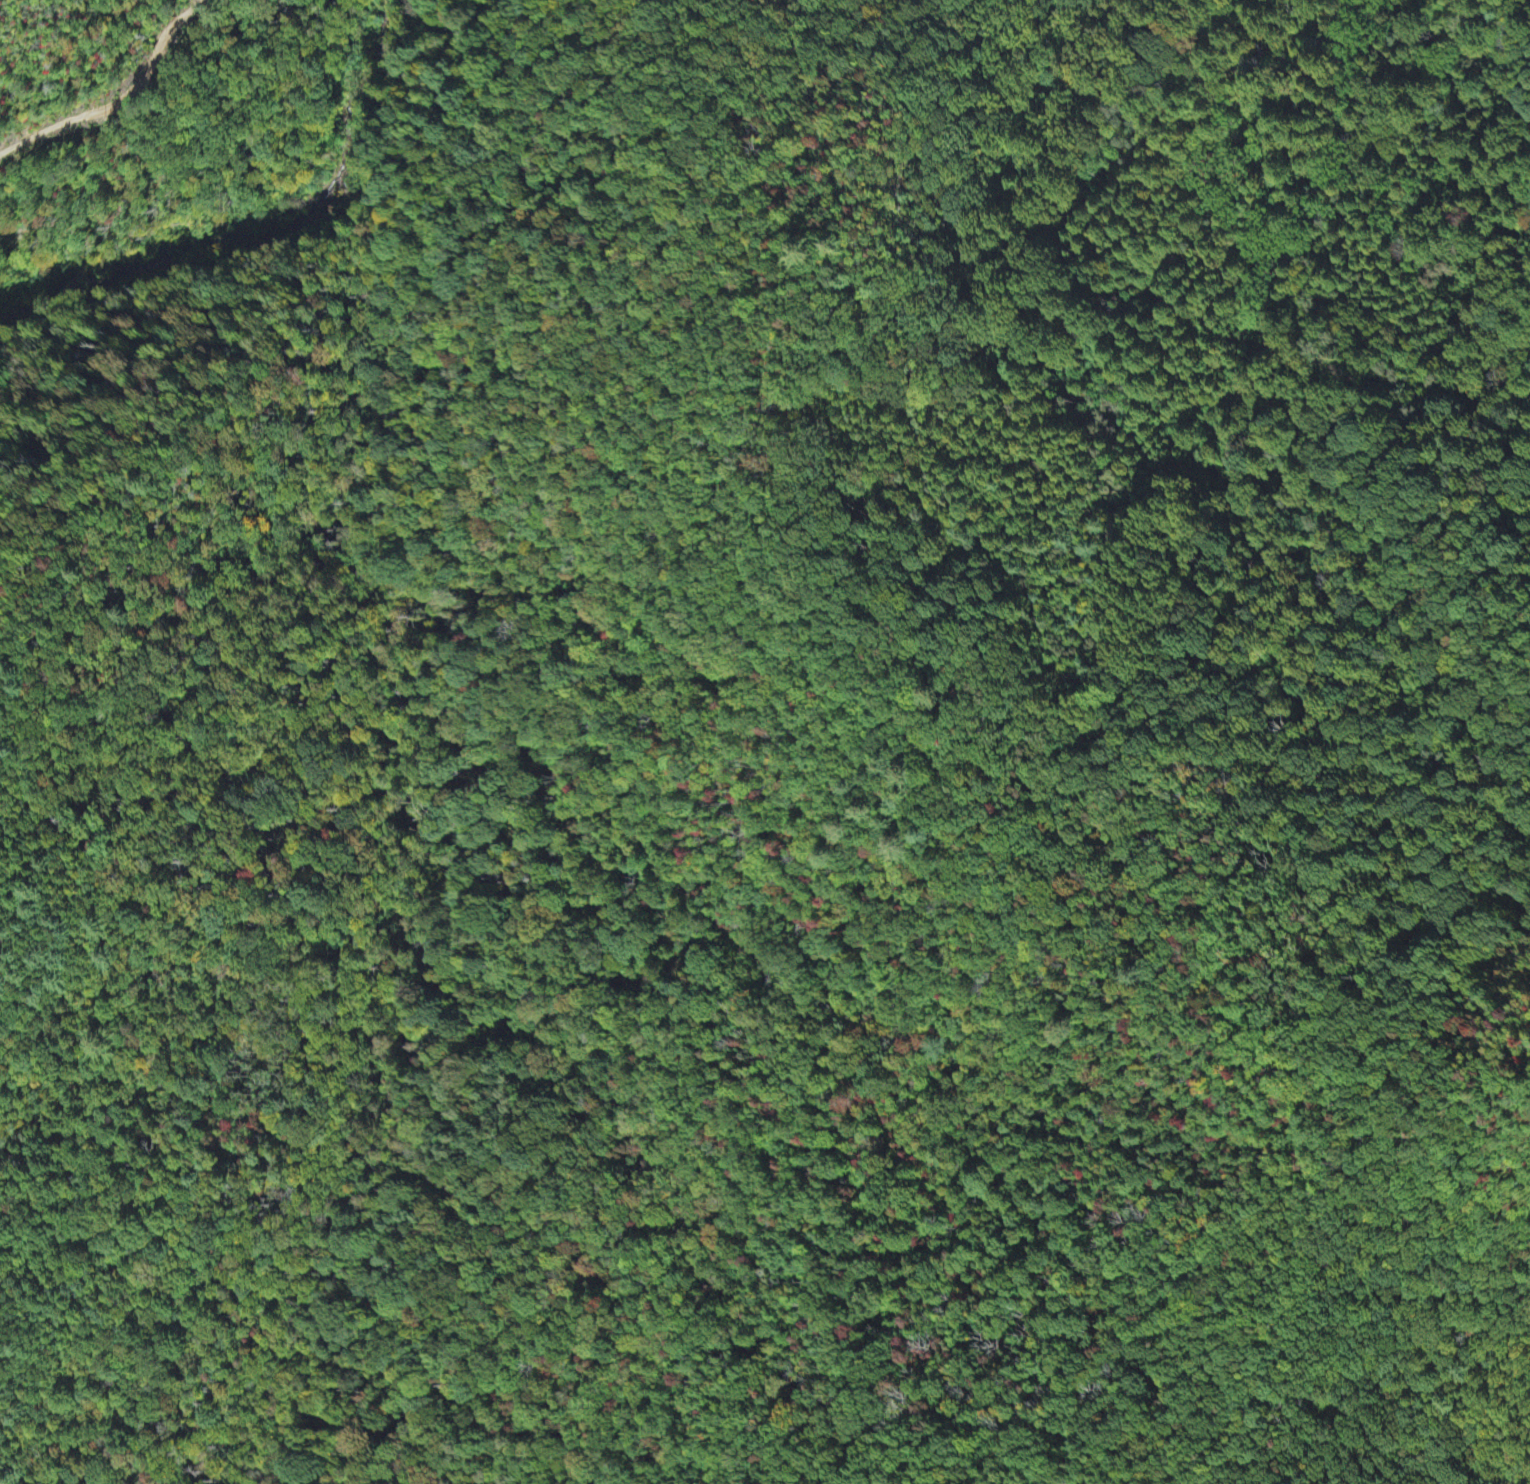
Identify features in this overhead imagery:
road: (119, 106)

